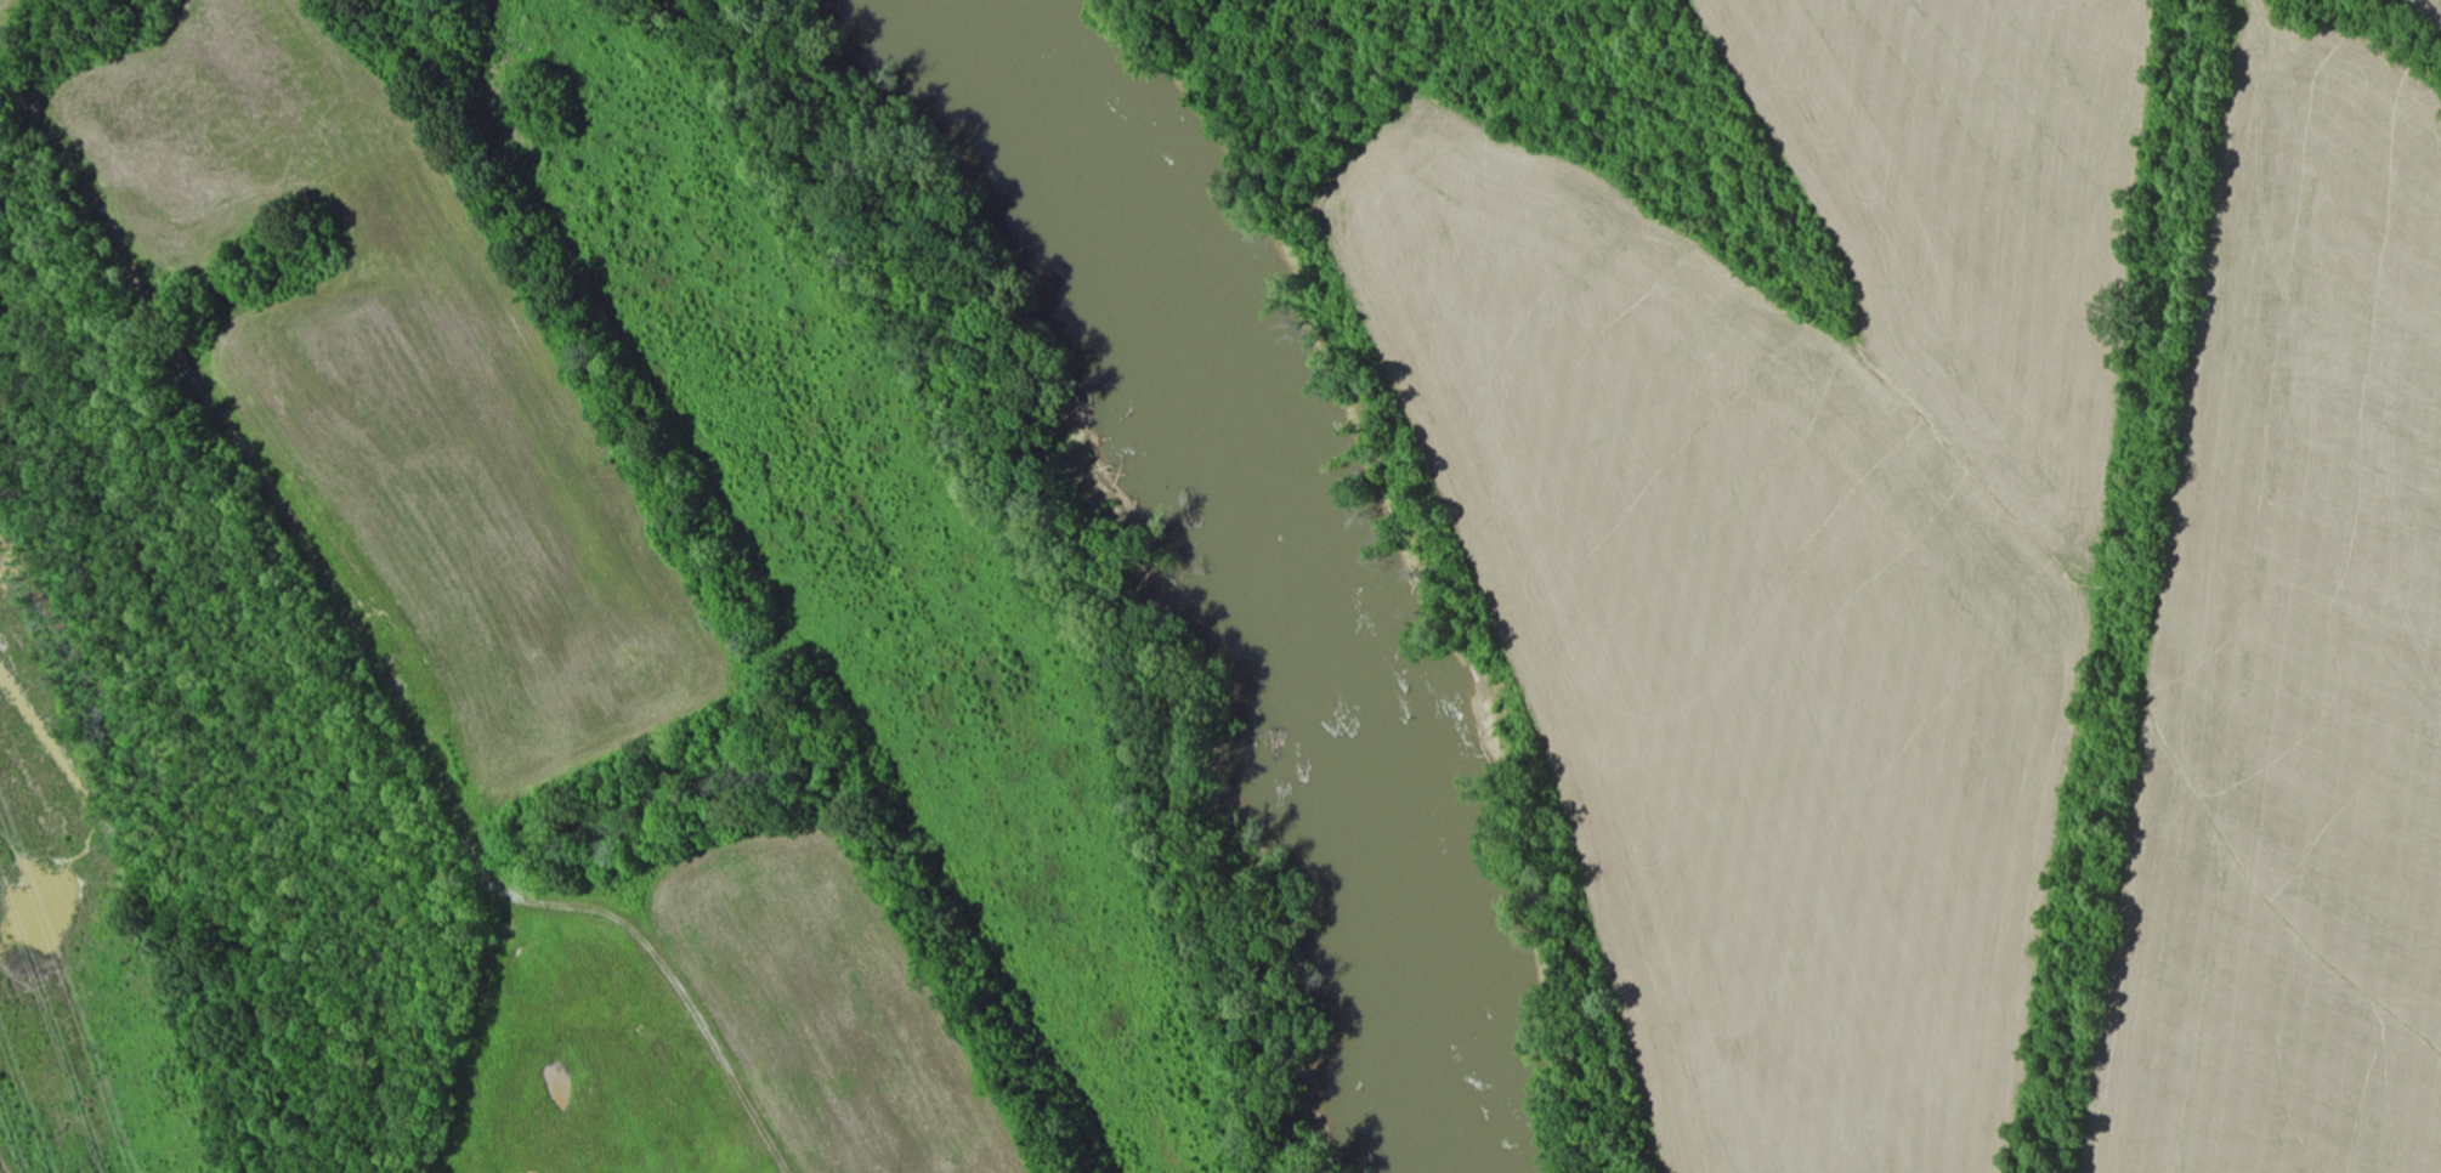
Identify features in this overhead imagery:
river: (1272, 549)

